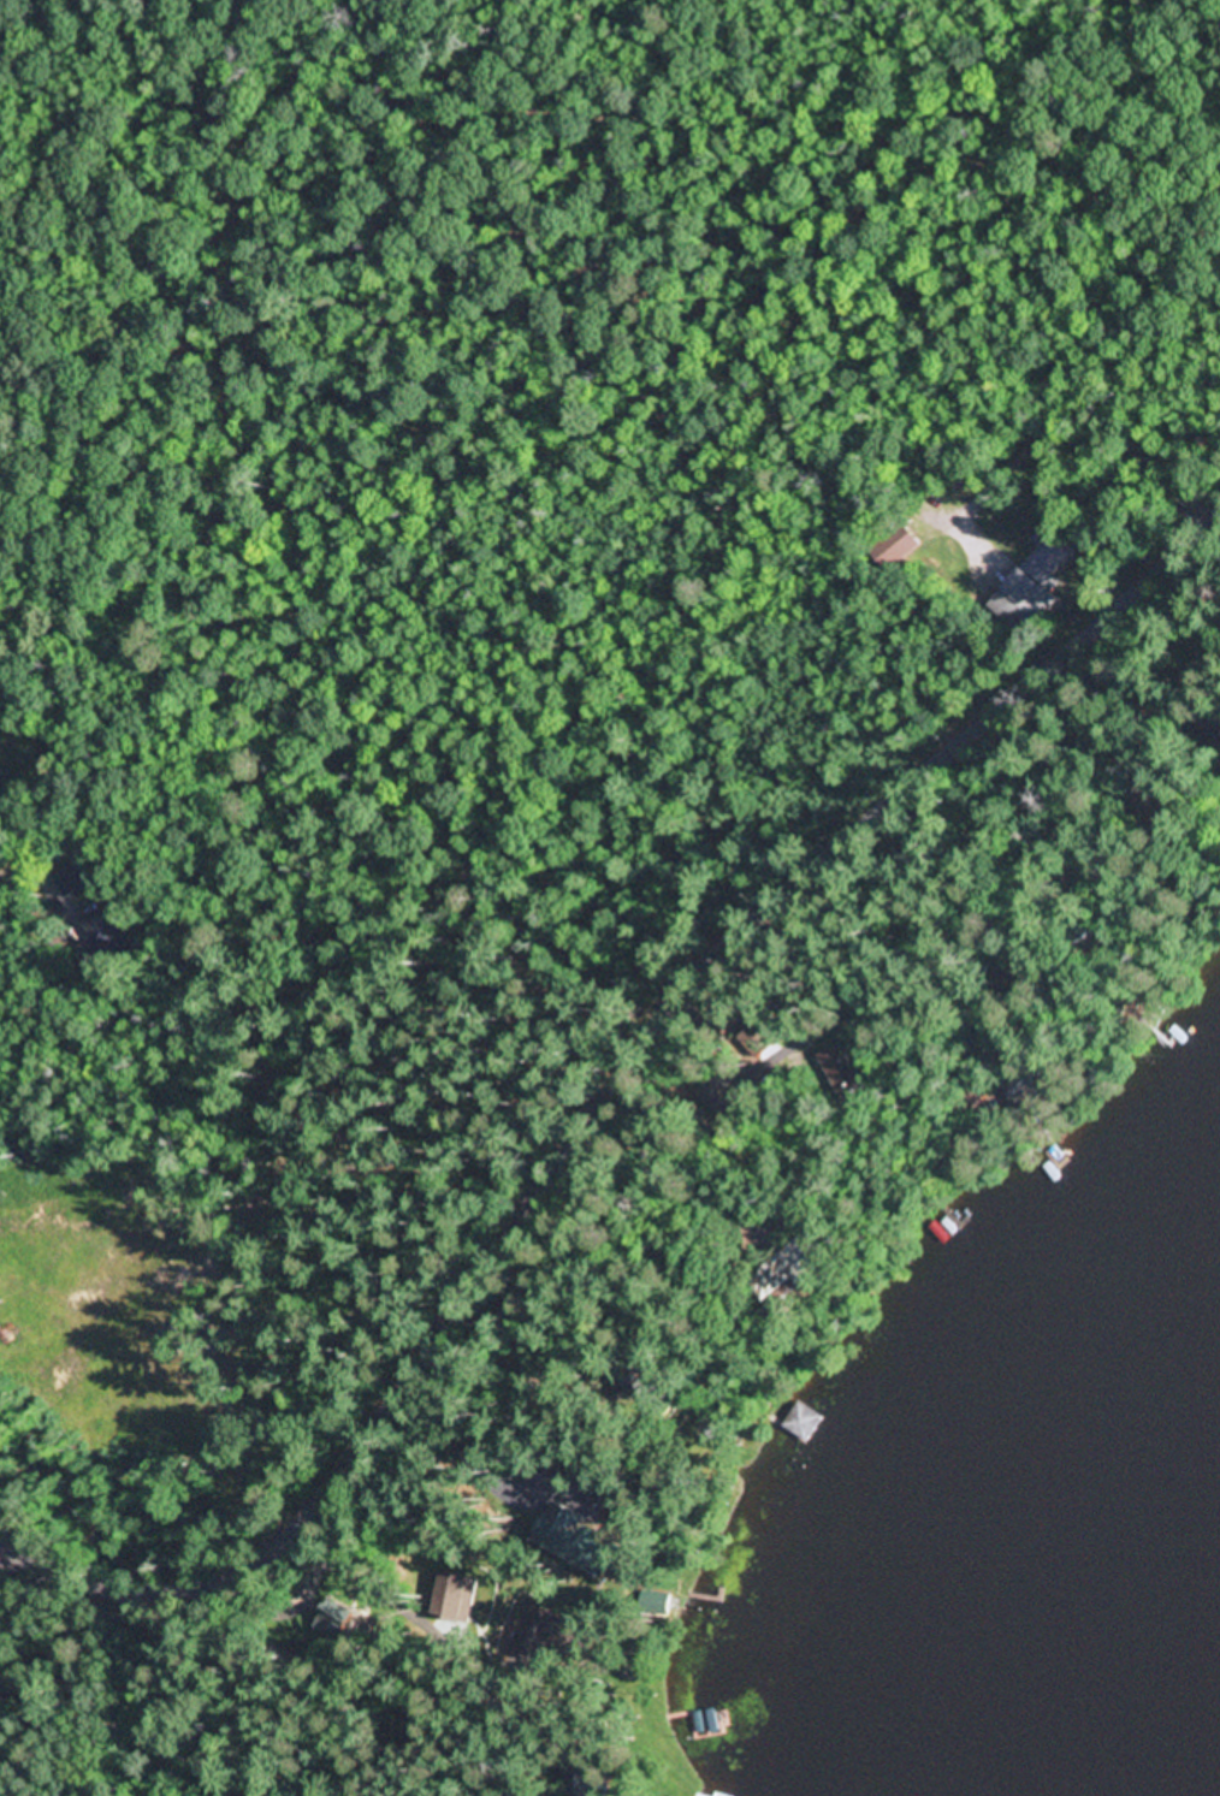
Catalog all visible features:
road: (1218, 516)
building: (900, 549)
building: (1036, 582)
building: (107, 936)
building: (841, 1069)
building: (713, 1092)
road: (623, 1112)
building: (794, 1268)
building: (804, 1422)
building: (575, 1542)
building: (535, 1630)
building: (409, 1709)

